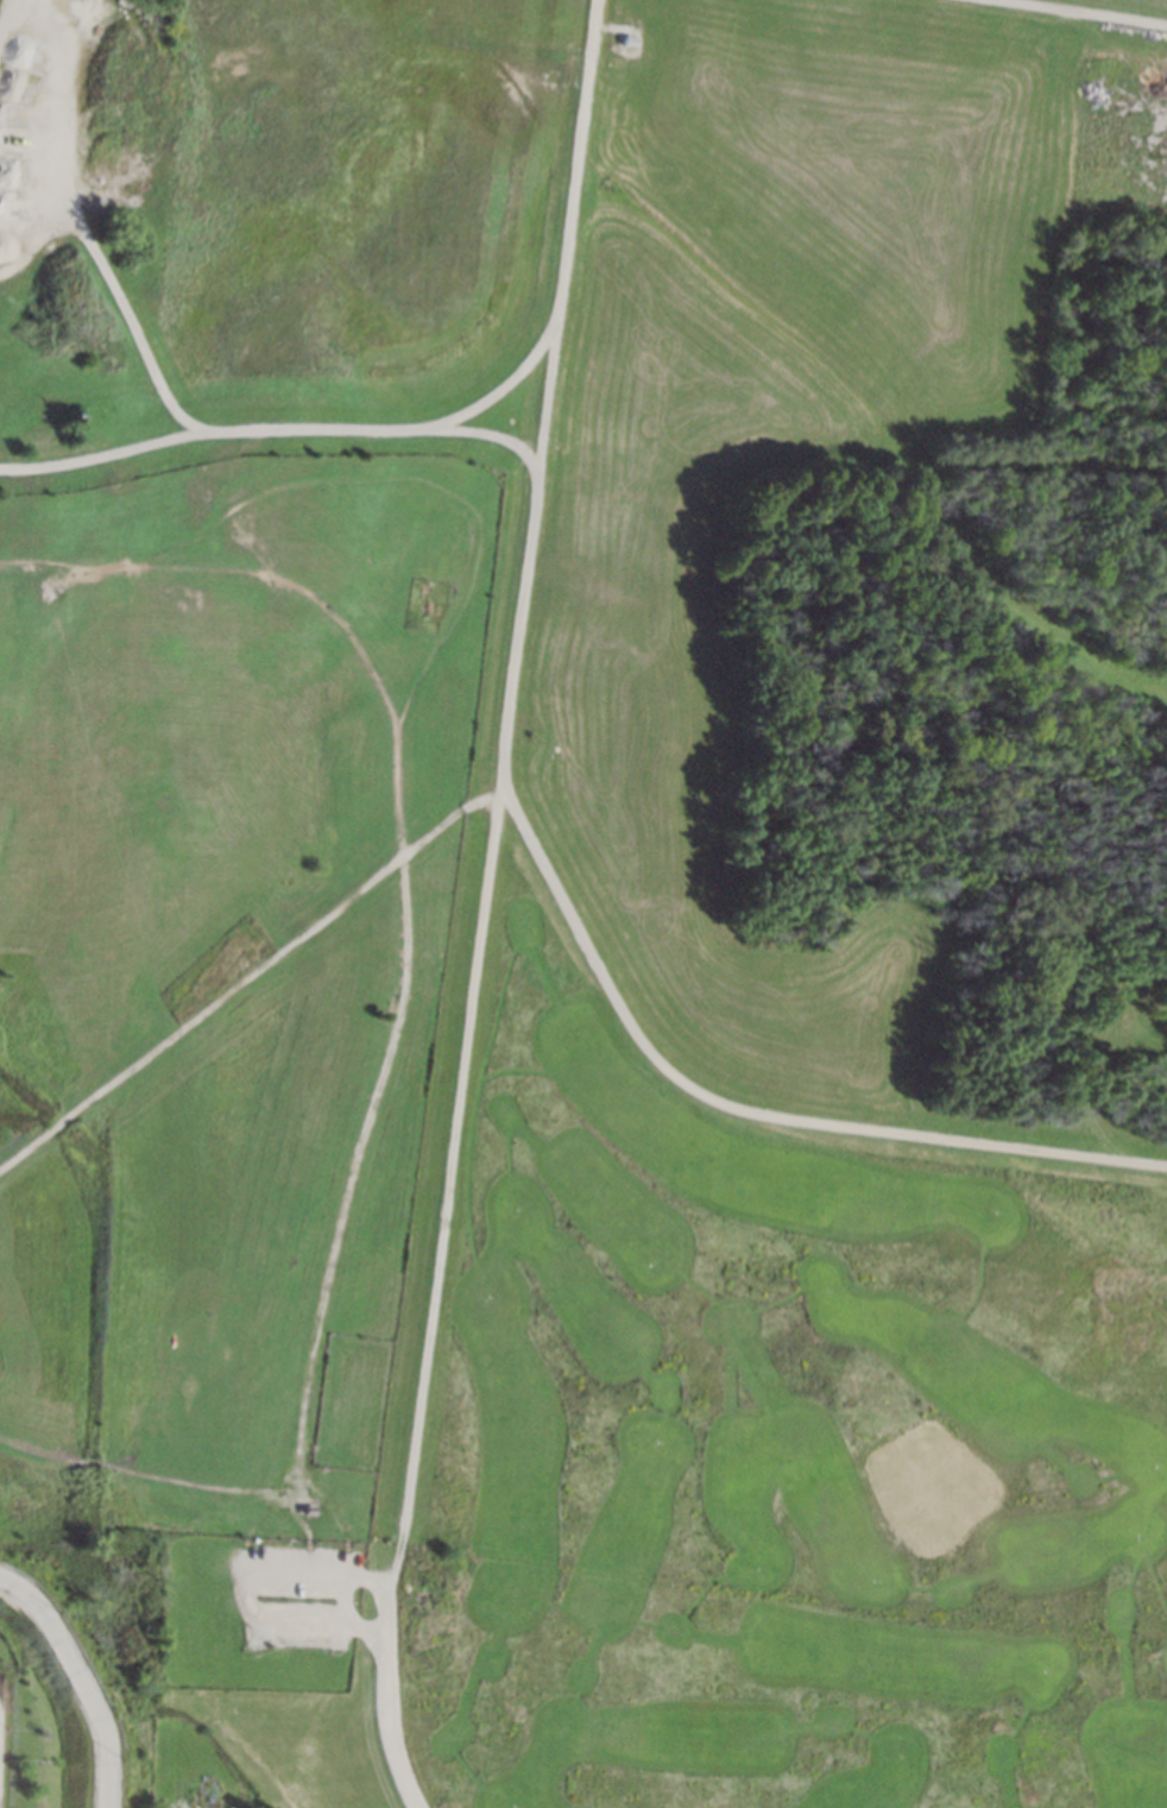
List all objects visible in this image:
road: (1072, 13)
road: (4, 17)
building: (626, 39)
road: (83, 231)
road: (564, 250)
road: (547, 399)
road: (418, 477)
road: (503, 750)
road: (244, 981)
road: (399, 1014)
road: (740, 1108)
building: (308, 1510)
parking lot: (298, 1590)
road: (253, 1593)
road: (78, 1683)
road: (387, 1696)

